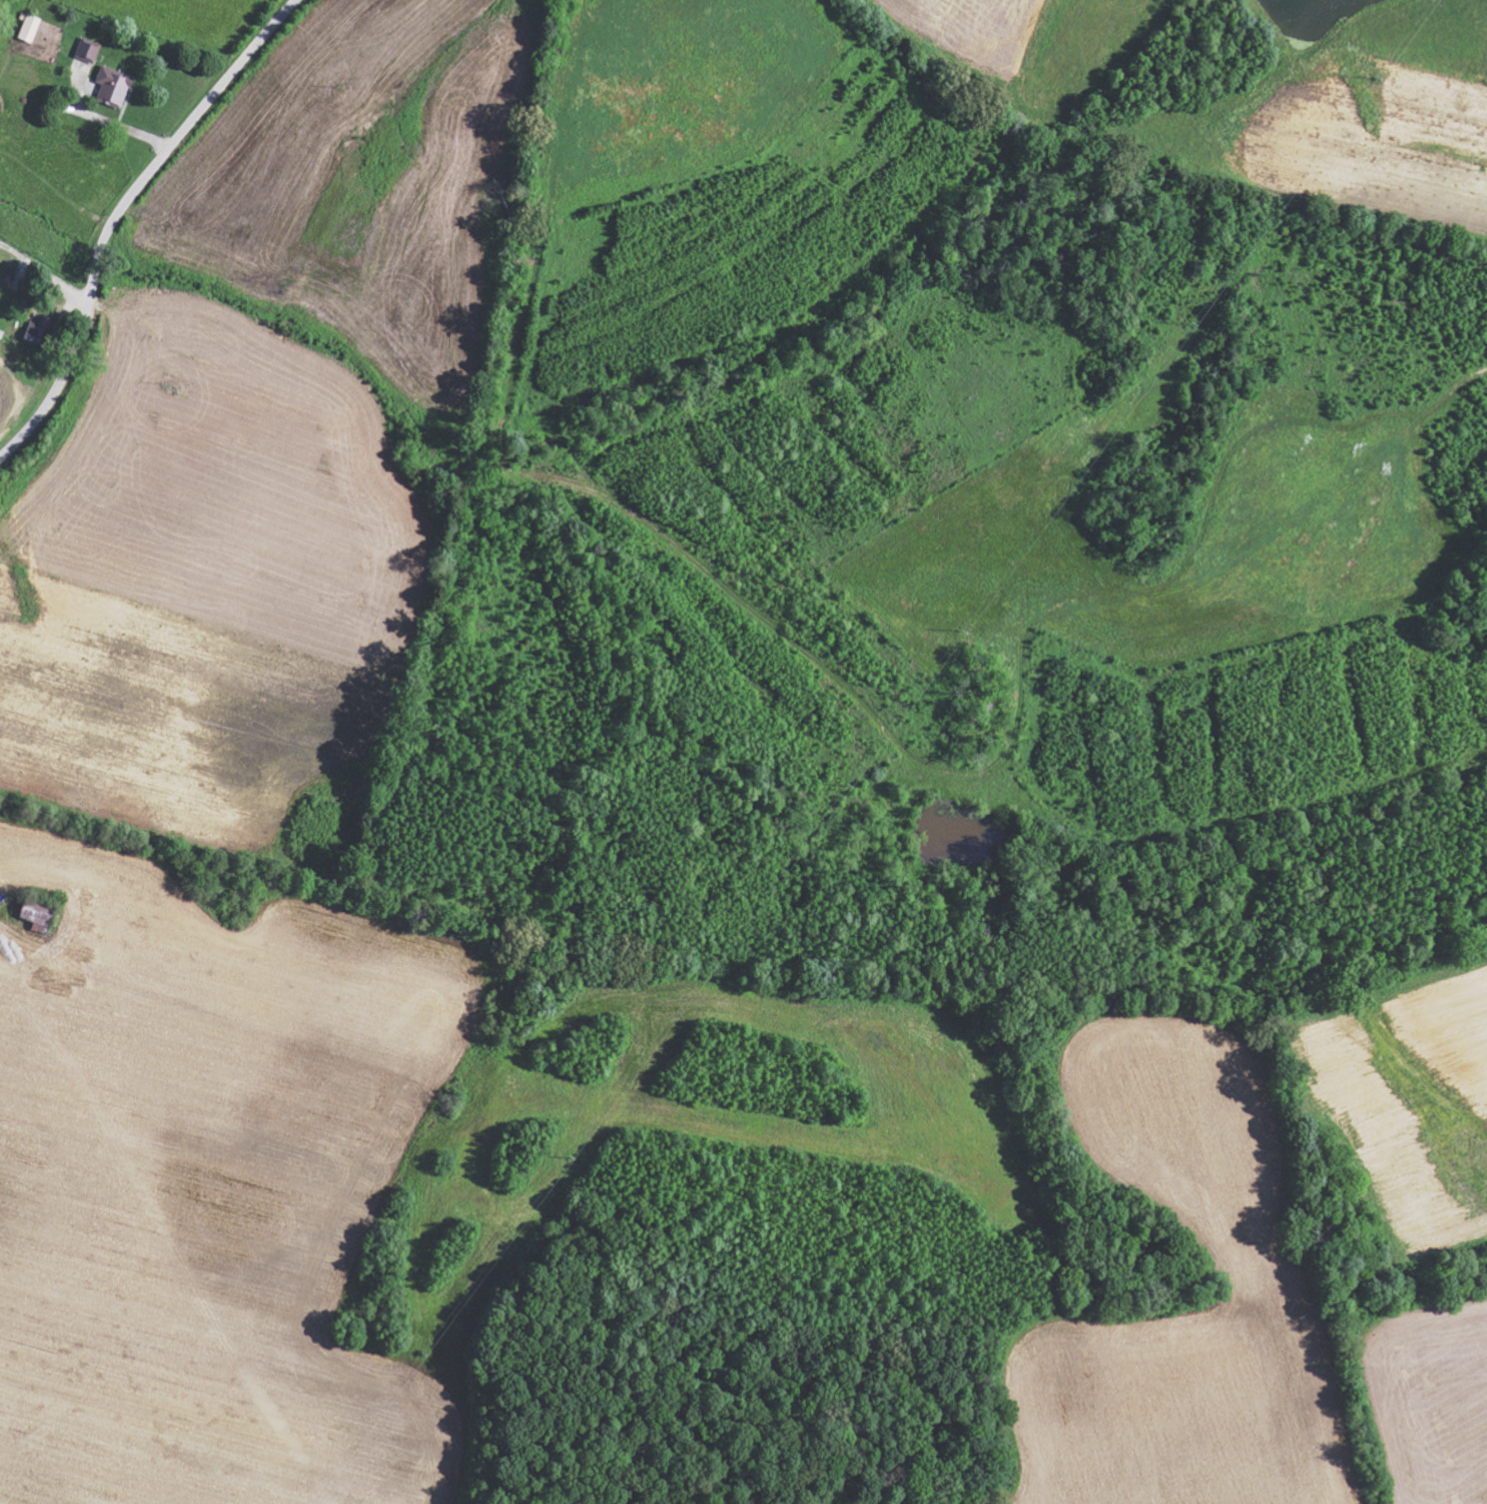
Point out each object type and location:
building: (30, 27)
building: (88, 50)
building: (114, 86)
road: (120, 213)
building: (36, 915)

